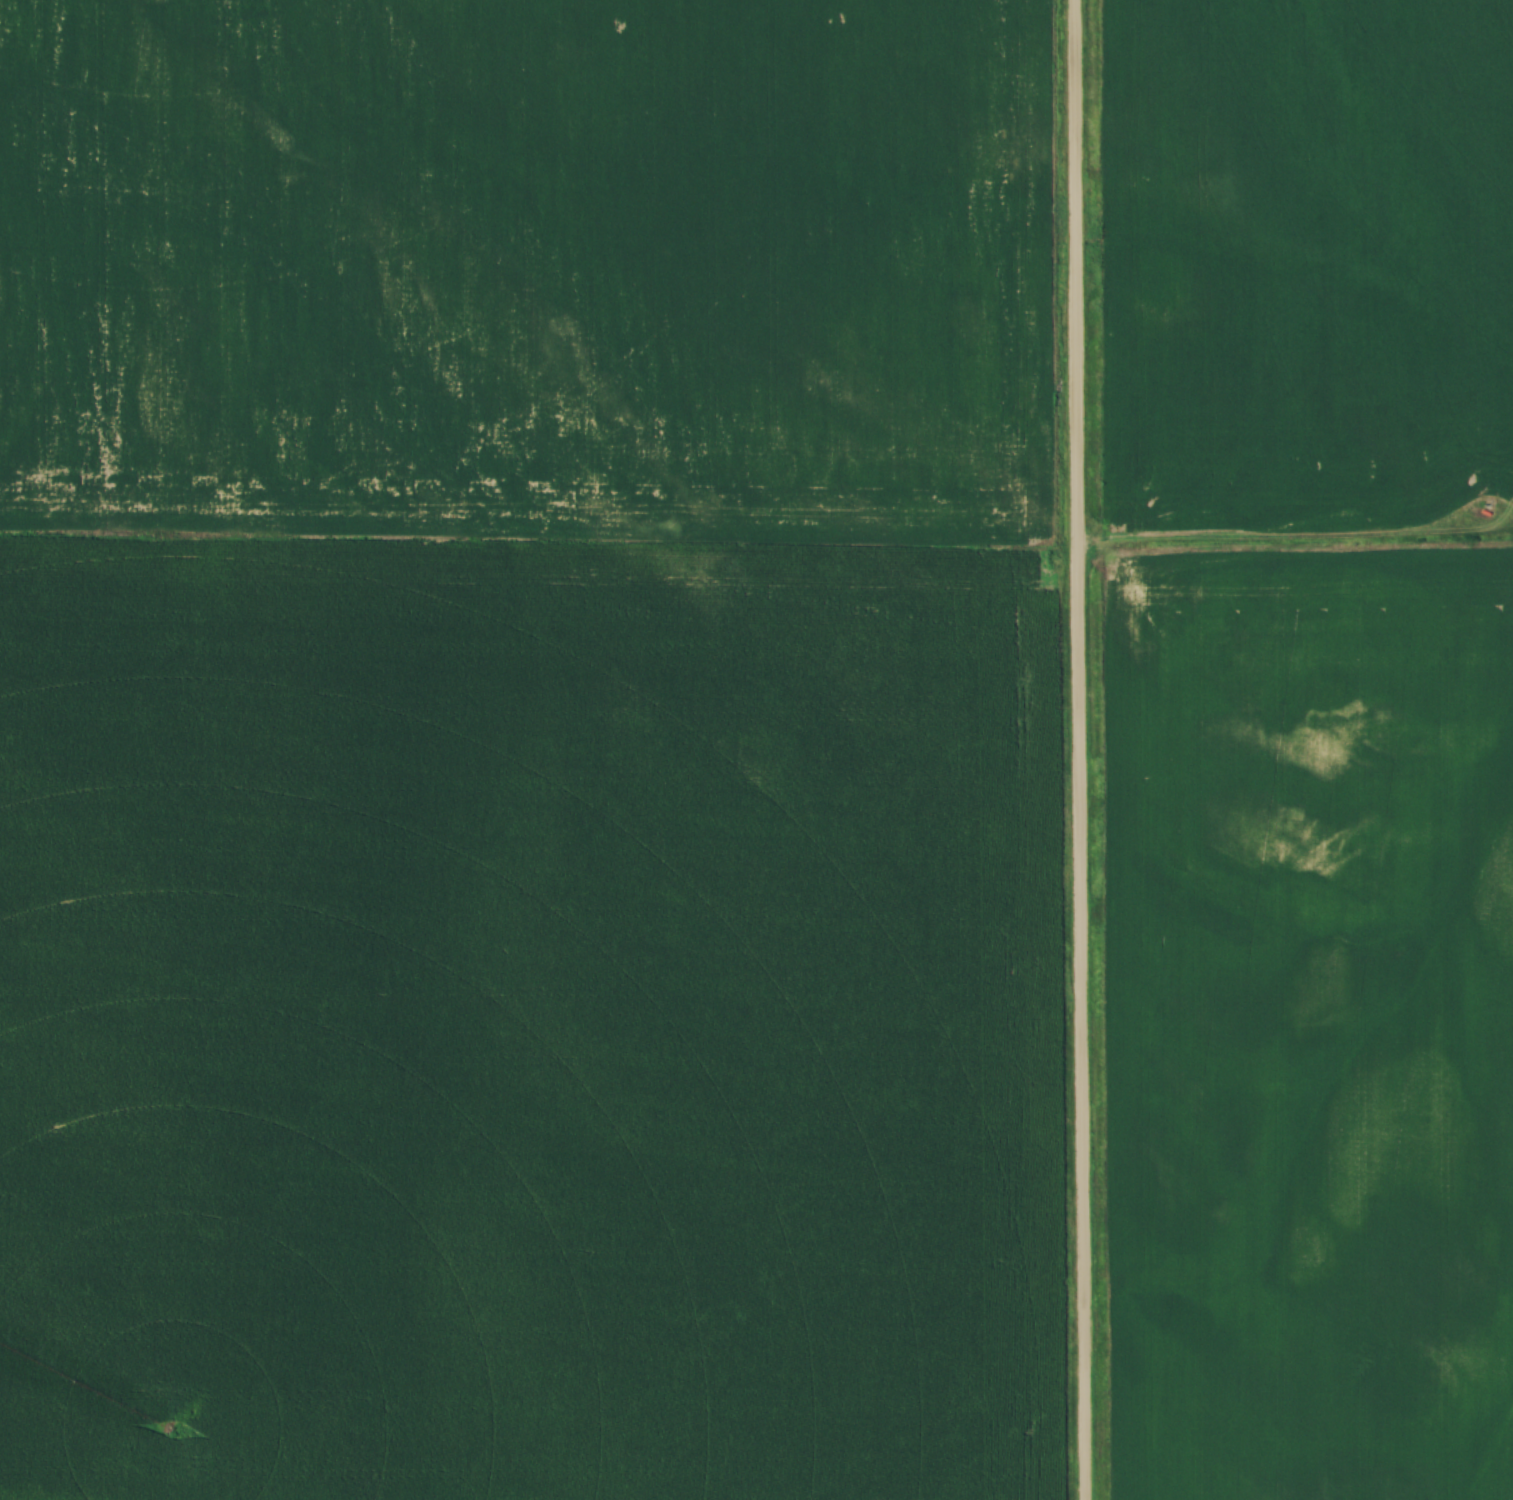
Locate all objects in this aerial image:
road: (1080, 750)

